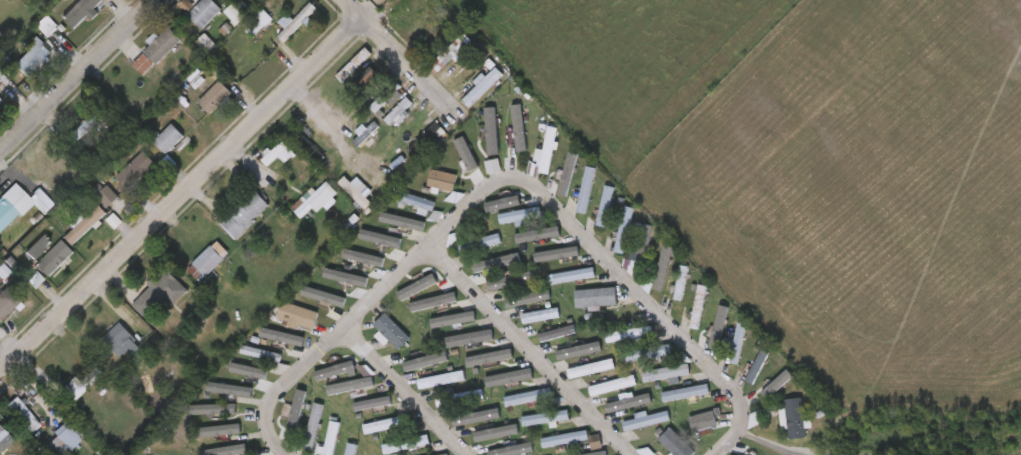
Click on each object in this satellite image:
building: (4, 10)
building: (83, 12)
building: (204, 12)
building: (424, 19)
building: (259, 21)
building: (296, 22)
building: (47, 29)
building: (161, 45)
road: (392, 52)
building: (32, 58)
building: (351, 64)
road: (73, 72)
building: (483, 87)
building: (217, 97)
building: (0, 101)
building: (382, 103)
building: (0, 104)
building: (398, 113)
building: (351, 119)
building: (90, 125)
building: (366, 135)
building: (427, 137)
building: (168, 139)
building: (307, 145)
building: (547, 151)
building: (275, 156)
road: (362, 158)
building: (137, 171)
building: (442, 181)
building: (586, 191)
building: (362, 192)
building: (106, 194)
road: (177, 195)
building: (313, 199)
building: (605, 207)
building: (6, 213)
building: (242, 213)
building: (521, 216)
building: (85, 224)
building: (623, 230)
building: (479, 242)
building: (641, 246)
building: (38, 248)
building: (56, 258)
building: (208, 262)
building: (573, 276)
road: (625, 281)
building: (510, 282)
road: (384, 288)
building: (159, 294)
building: (596, 298)
building: (7, 302)
building: (298, 315)
building: (540, 315)
building: (391, 332)
building: (631, 335)
building: (118, 342)
building: (472, 343)
building: (738, 344)
road: (529, 351)
building: (650, 353)
building: (261, 356)
building: (757, 367)
building: (592, 368)
building: (667, 374)
building: (441, 379)
building: (81, 384)
building: (351, 385)
building: (613, 385)
road: (405, 391)
building: (686, 393)
building: (528, 397)
building: (460, 398)
building: (23, 412)
building: (795, 418)
building: (547, 419)
building: (647, 420)
road: (742, 421)
building: (386, 424)
building: (702, 425)
building: (313, 426)
road: (271, 438)
building: (331, 438)
building: (5, 439)
building: (63, 439)
building: (565, 440)
building: (407, 444)
building: (596, 444)
building: (676, 444)
building: (351, 449)
building: (648, 452)
building: (444, 454)

